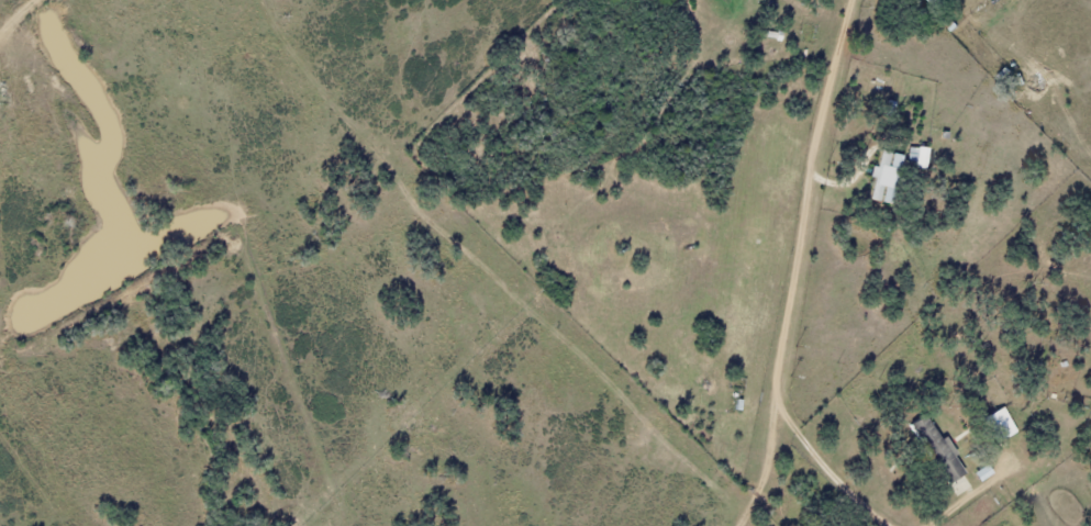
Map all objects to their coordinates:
building: (925, 1)
building: (917, 156)
building: (882, 174)
road: (805, 190)
building: (1000, 424)
building: (943, 456)
building: (982, 472)

